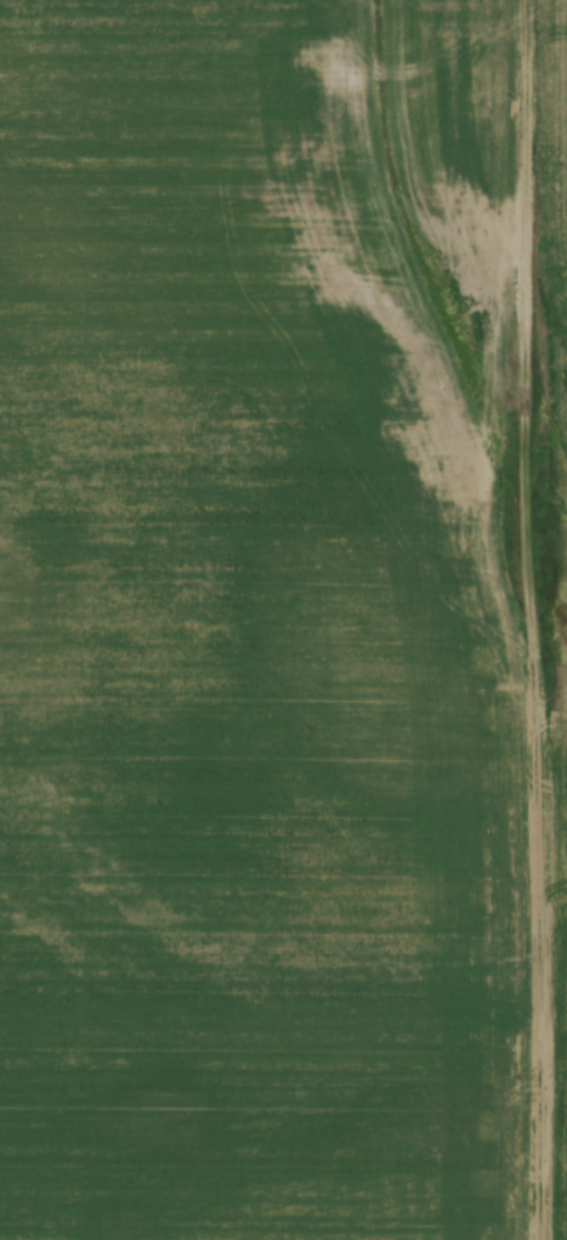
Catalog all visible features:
road: (516, 619)

